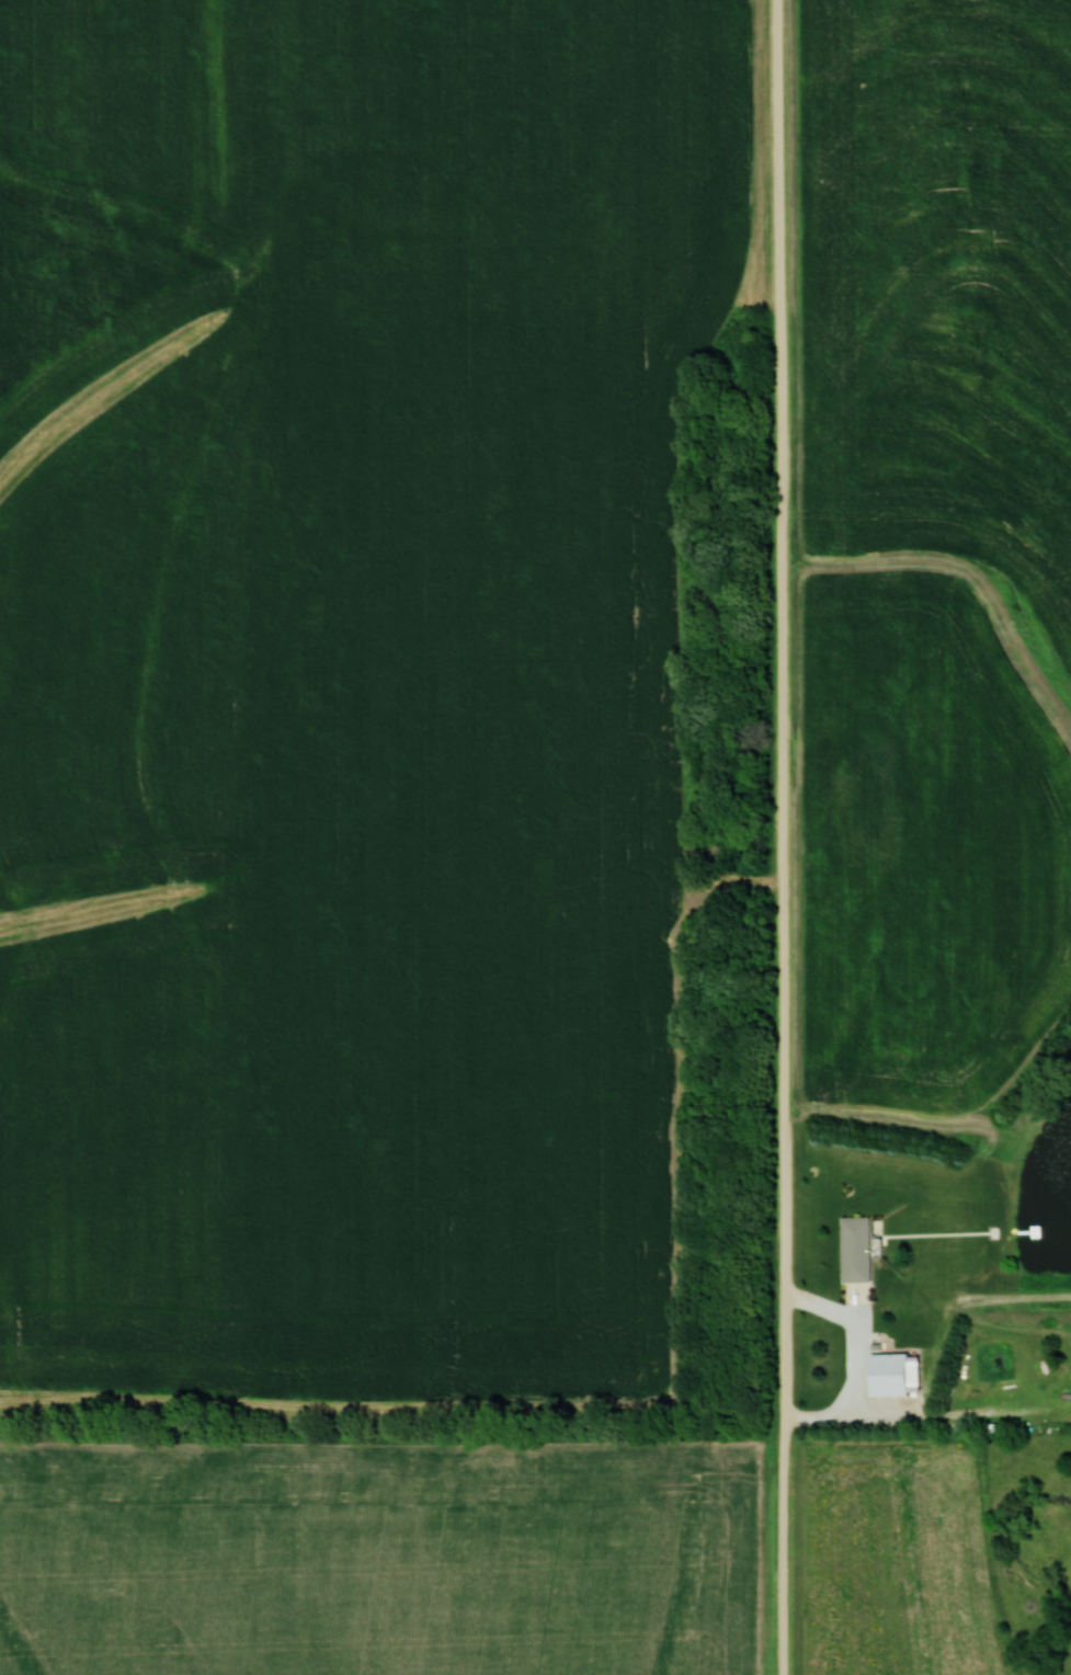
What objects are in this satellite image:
road: (786, 836)
building: (863, 1249)
road: (853, 1371)
building: (895, 1374)

